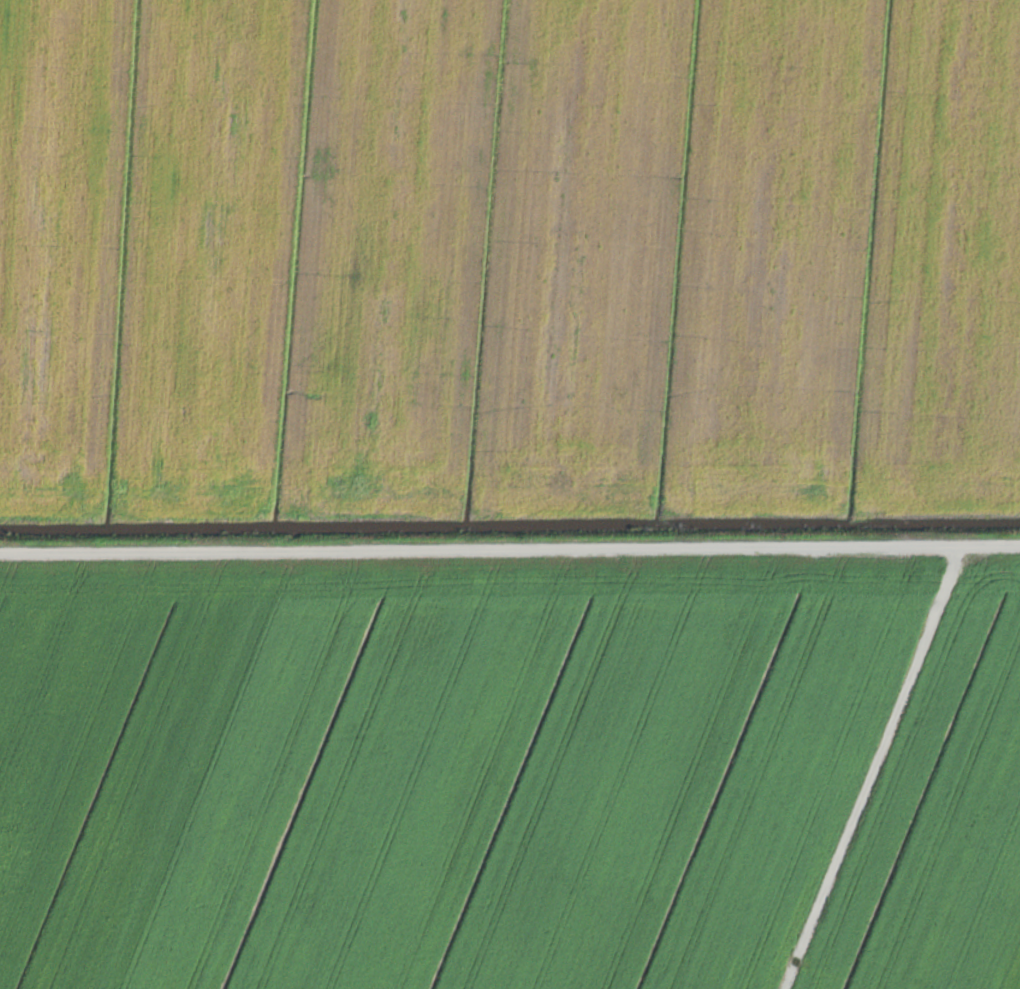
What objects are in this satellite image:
road: (510, 556)

